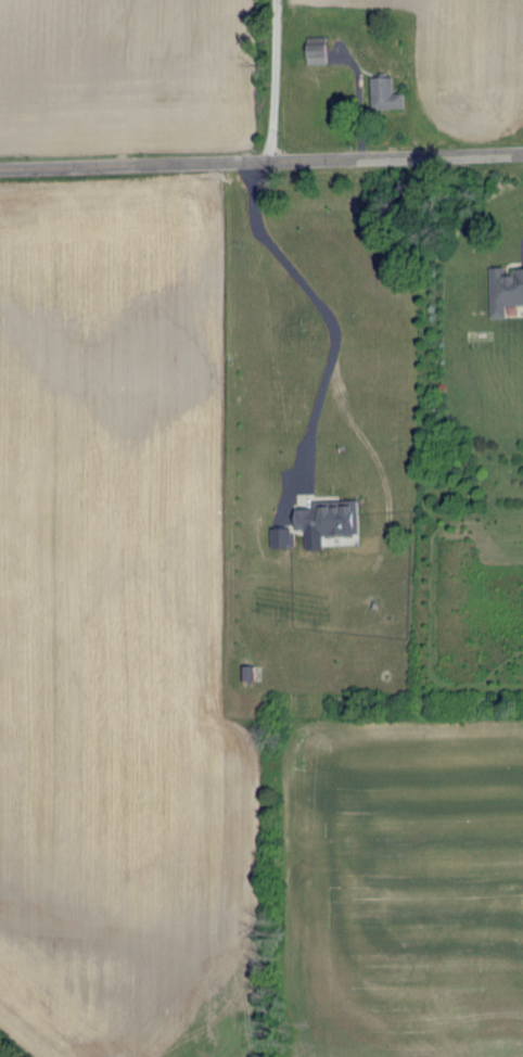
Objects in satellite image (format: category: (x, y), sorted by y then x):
building: (318, 53)
road: (271, 79)
building: (383, 91)
road: (261, 160)
building: (505, 288)
road: (327, 314)
building: (326, 518)
building: (282, 535)

